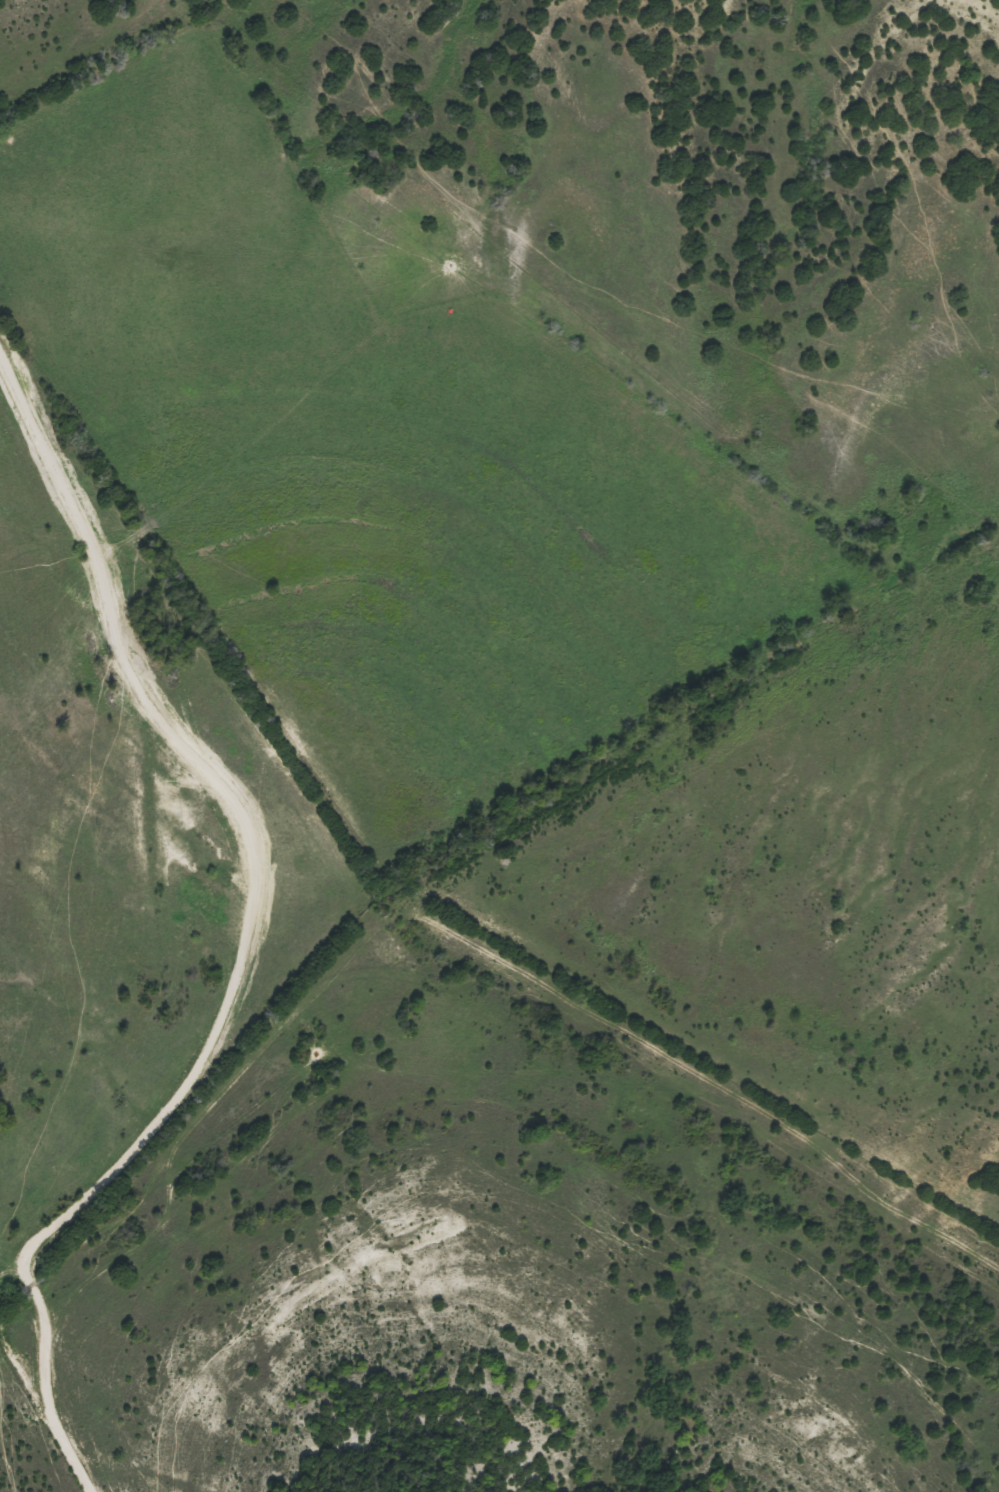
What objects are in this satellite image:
road: (275, 938)

